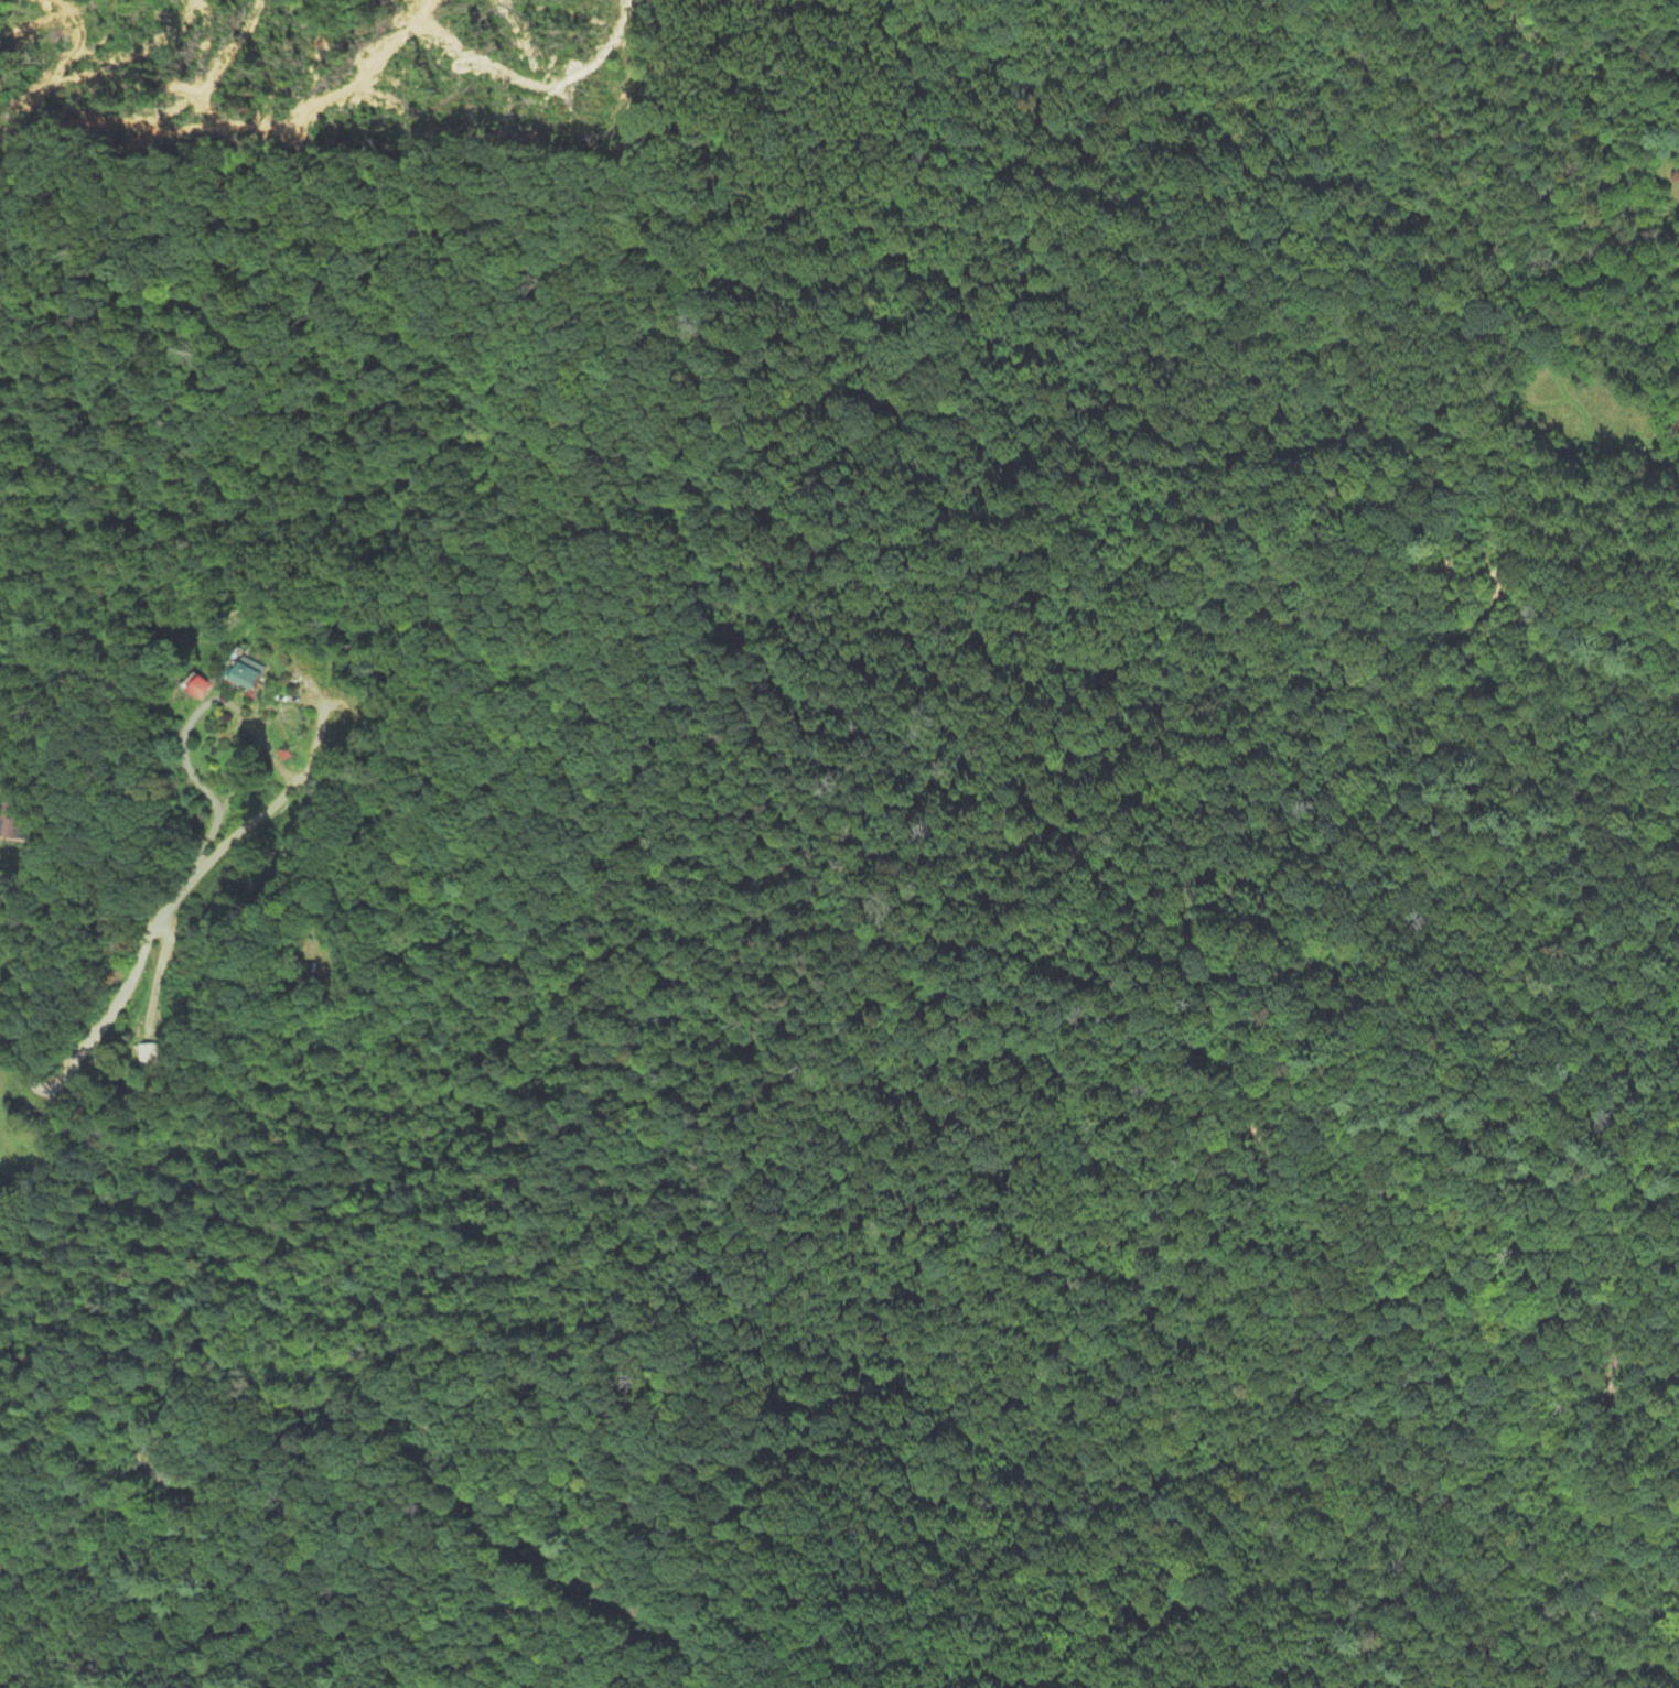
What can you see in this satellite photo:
building: (243, 674)
building: (197, 688)
building: (11, 823)
road: (133, 974)

